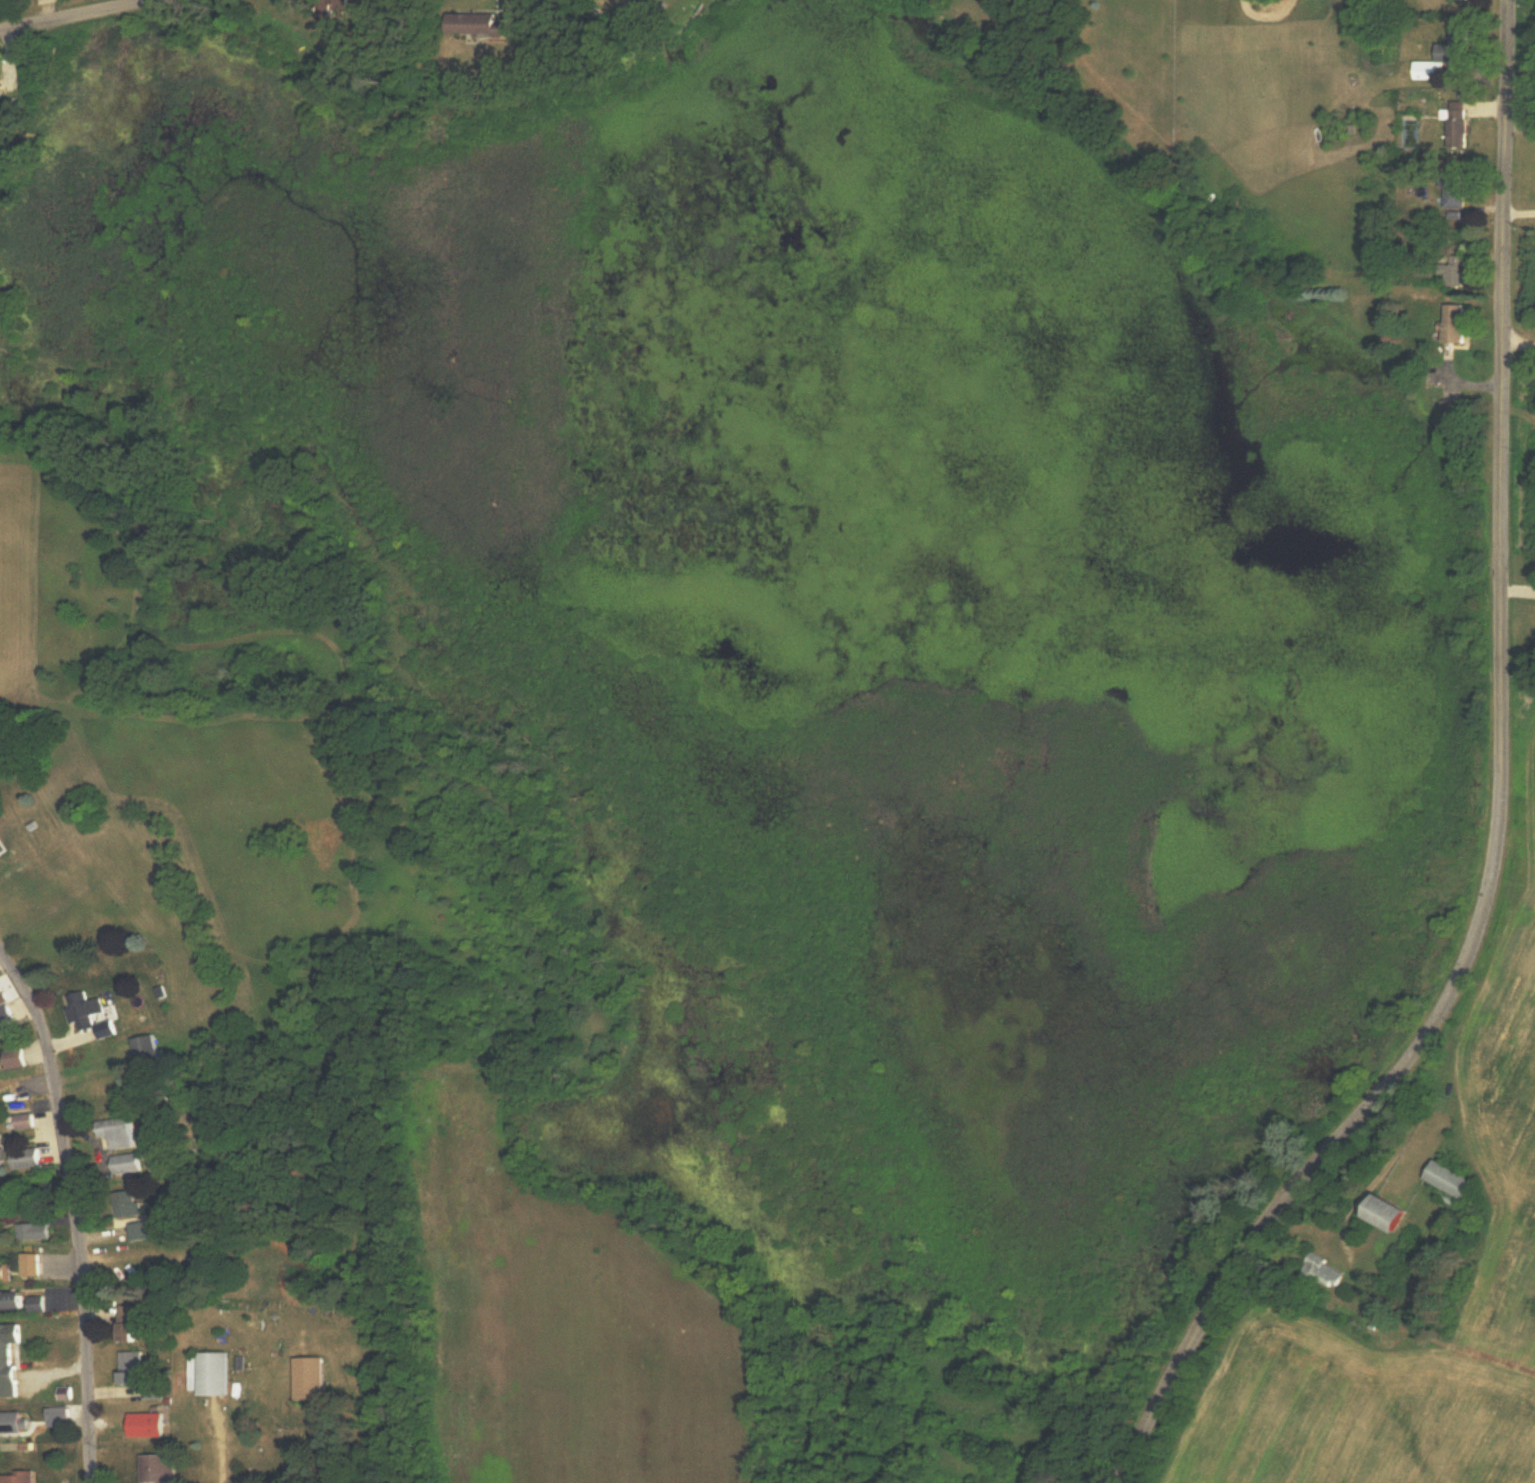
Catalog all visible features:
building: (1455, 0)
building: (364, 2)
road: (79, 15)
building: (468, 25)
building: (1435, 66)
building: (3, 89)
building: (1453, 130)
building: (1450, 192)
building: (1450, 271)
building: (1453, 324)
road: (1519, 343)
road: (1501, 797)
building: (4, 848)
building: (95, 1016)
building: (4, 1026)
building: (148, 1051)
building: (16, 1058)
building: (108, 1098)
building: (25, 1122)
building: (122, 1133)
building: (2, 1156)
building: (28, 1159)
building: (130, 1165)
building: (1446, 1182)
building: (124, 1205)
building: (1377, 1215)
road: (73, 1216)
building: (136, 1231)
building: (25, 1232)
building: (32, 1265)
building: (7, 1271)
building: (1320, 1273)
building: (22, 1301)
building: (137, 1320)
building: (11, 1360)
building: (135, 1367)
building: (216, 1373)
building: (305, 1379)
building: (15, 1422)
building: (149, 1425)
building: (160, 1468)
building: (25, 1476)

